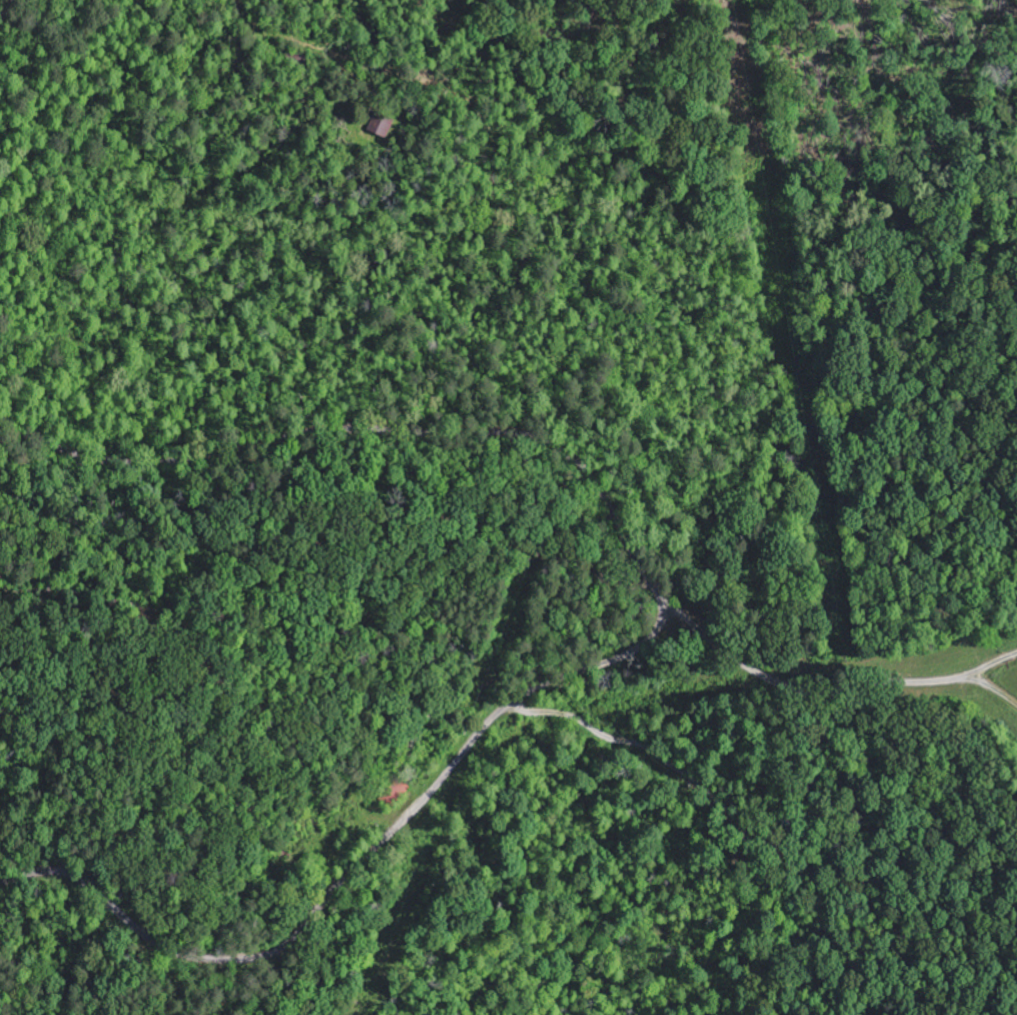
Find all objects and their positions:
road: (5, 10)
road: (378, 429)
road: (223, 662)
road: (830, 679)
road: (1014, 688)
road: (346, 875)

